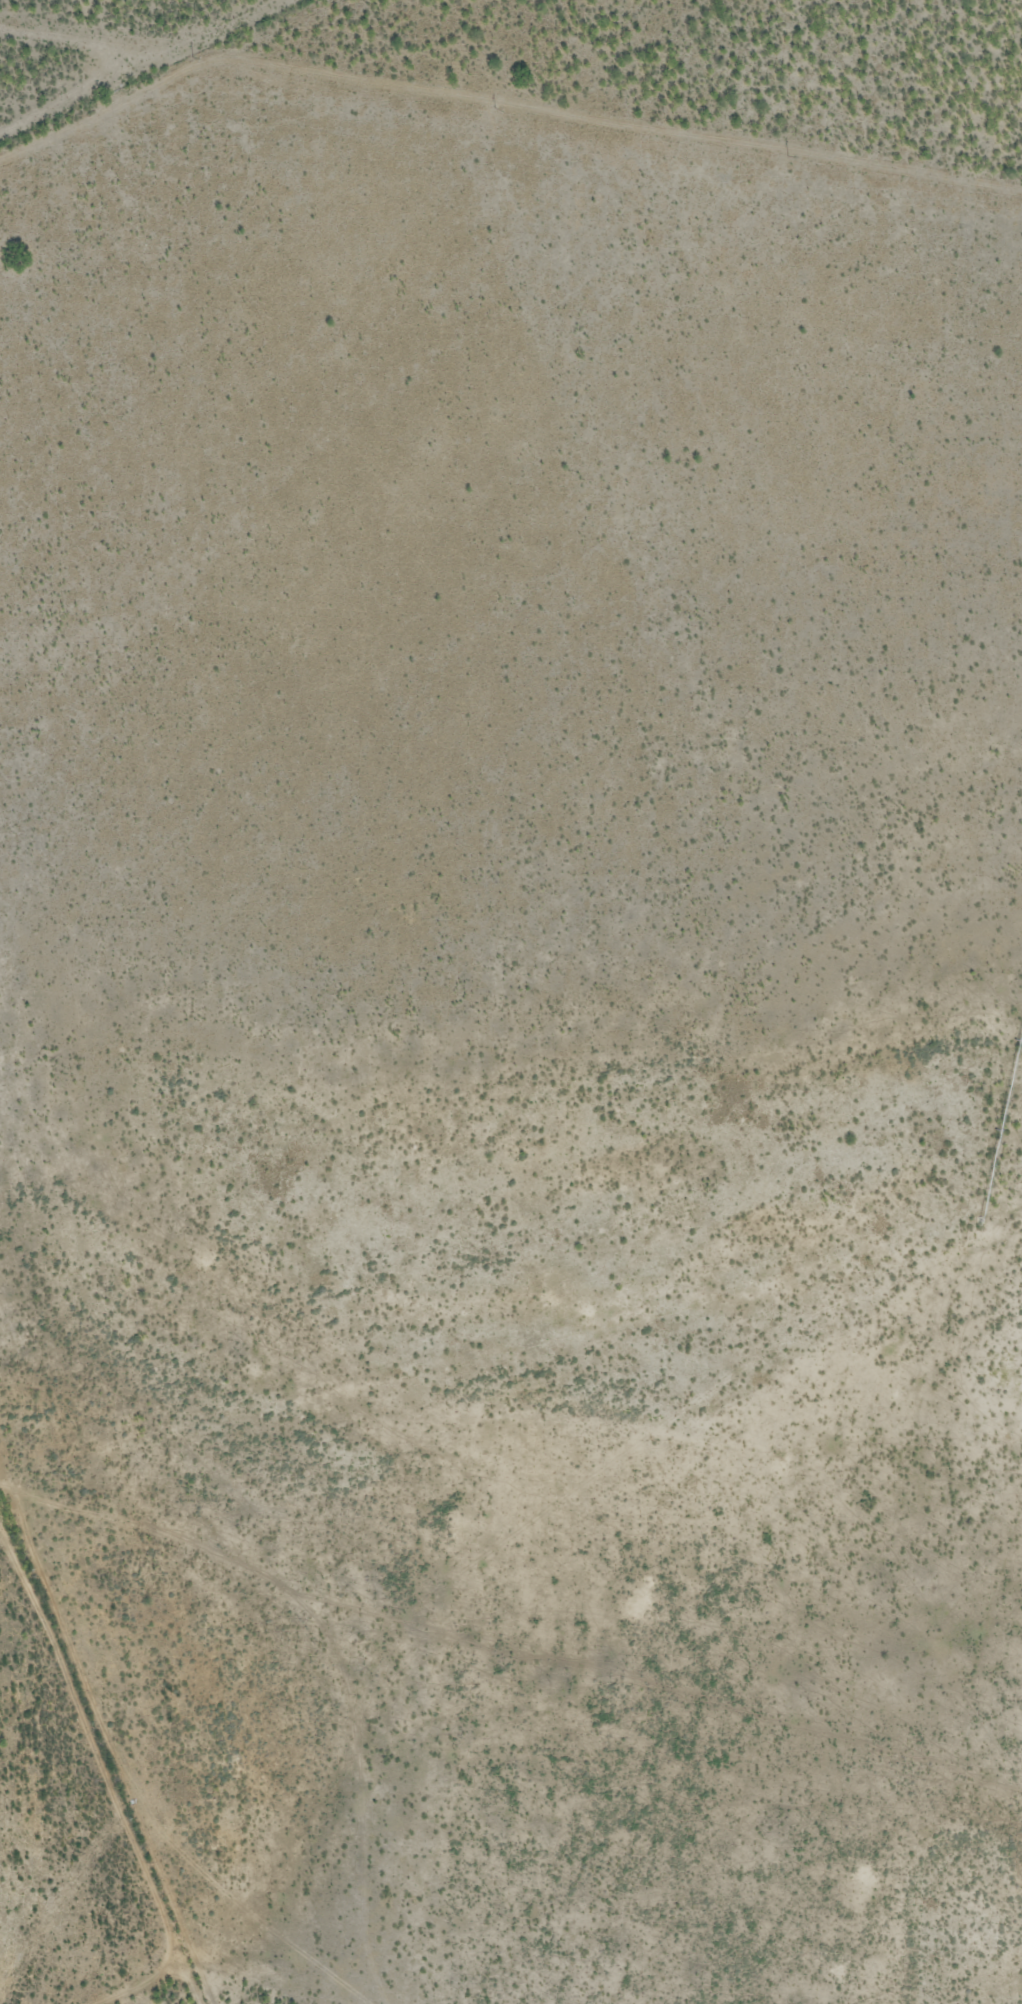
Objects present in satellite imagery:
power tower: (190, 58)
power tower: (493, 109)
power tower: (786, 158)
road: (445, 1516)

